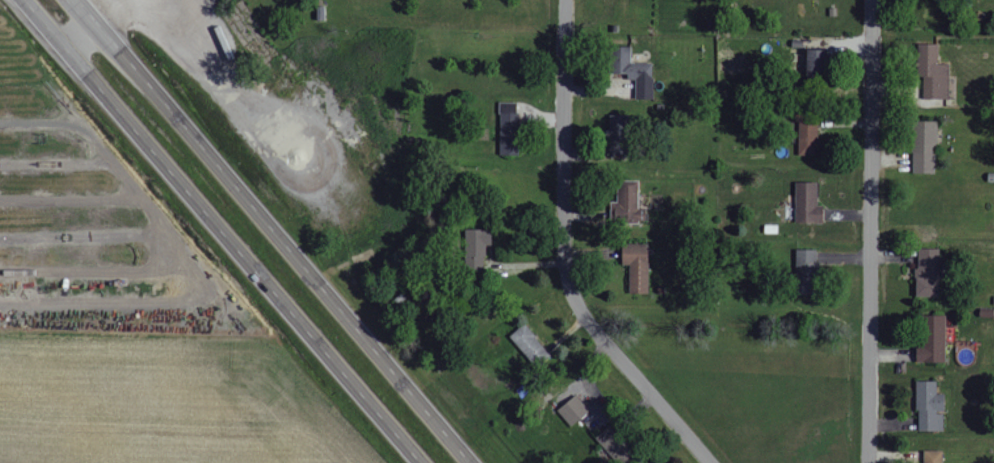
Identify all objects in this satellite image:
building: (820, 60)
building: (937, 74)
building: (643, 77)
building: (511, 128)
building: (620, 133)
road: (568, 137)
building: (811, 138)
building: (928, 146)
road: (870, 147)
building: (630, 201)
building: (810, 203)
road: (224, 230)
road: (268, 232)
building: (482, 244)
building: (639, 266)
building: (811, 267)
building: (931, 272)
road: (602, 328)
building: (936, 340)
building: (532, 345)
road: (867, 378)
building: (932, 406)
building: (574, 410)
road: (675, 423)
building: (617, 445)
building: (936, 456)

